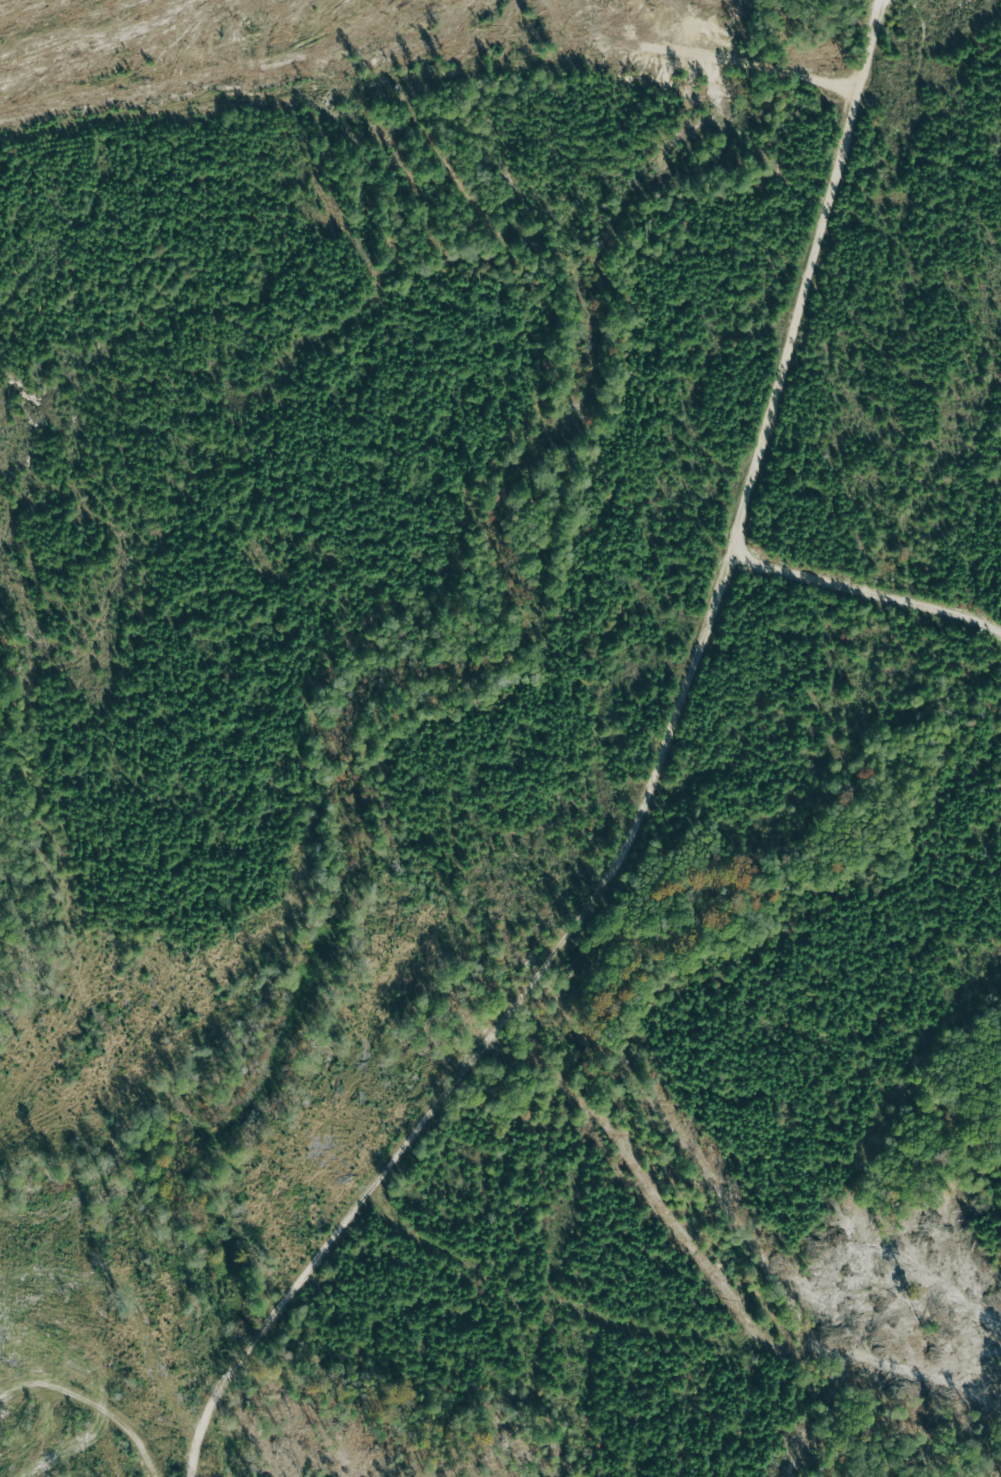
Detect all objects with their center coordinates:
road: (864, 597)
road: (629, 823)

